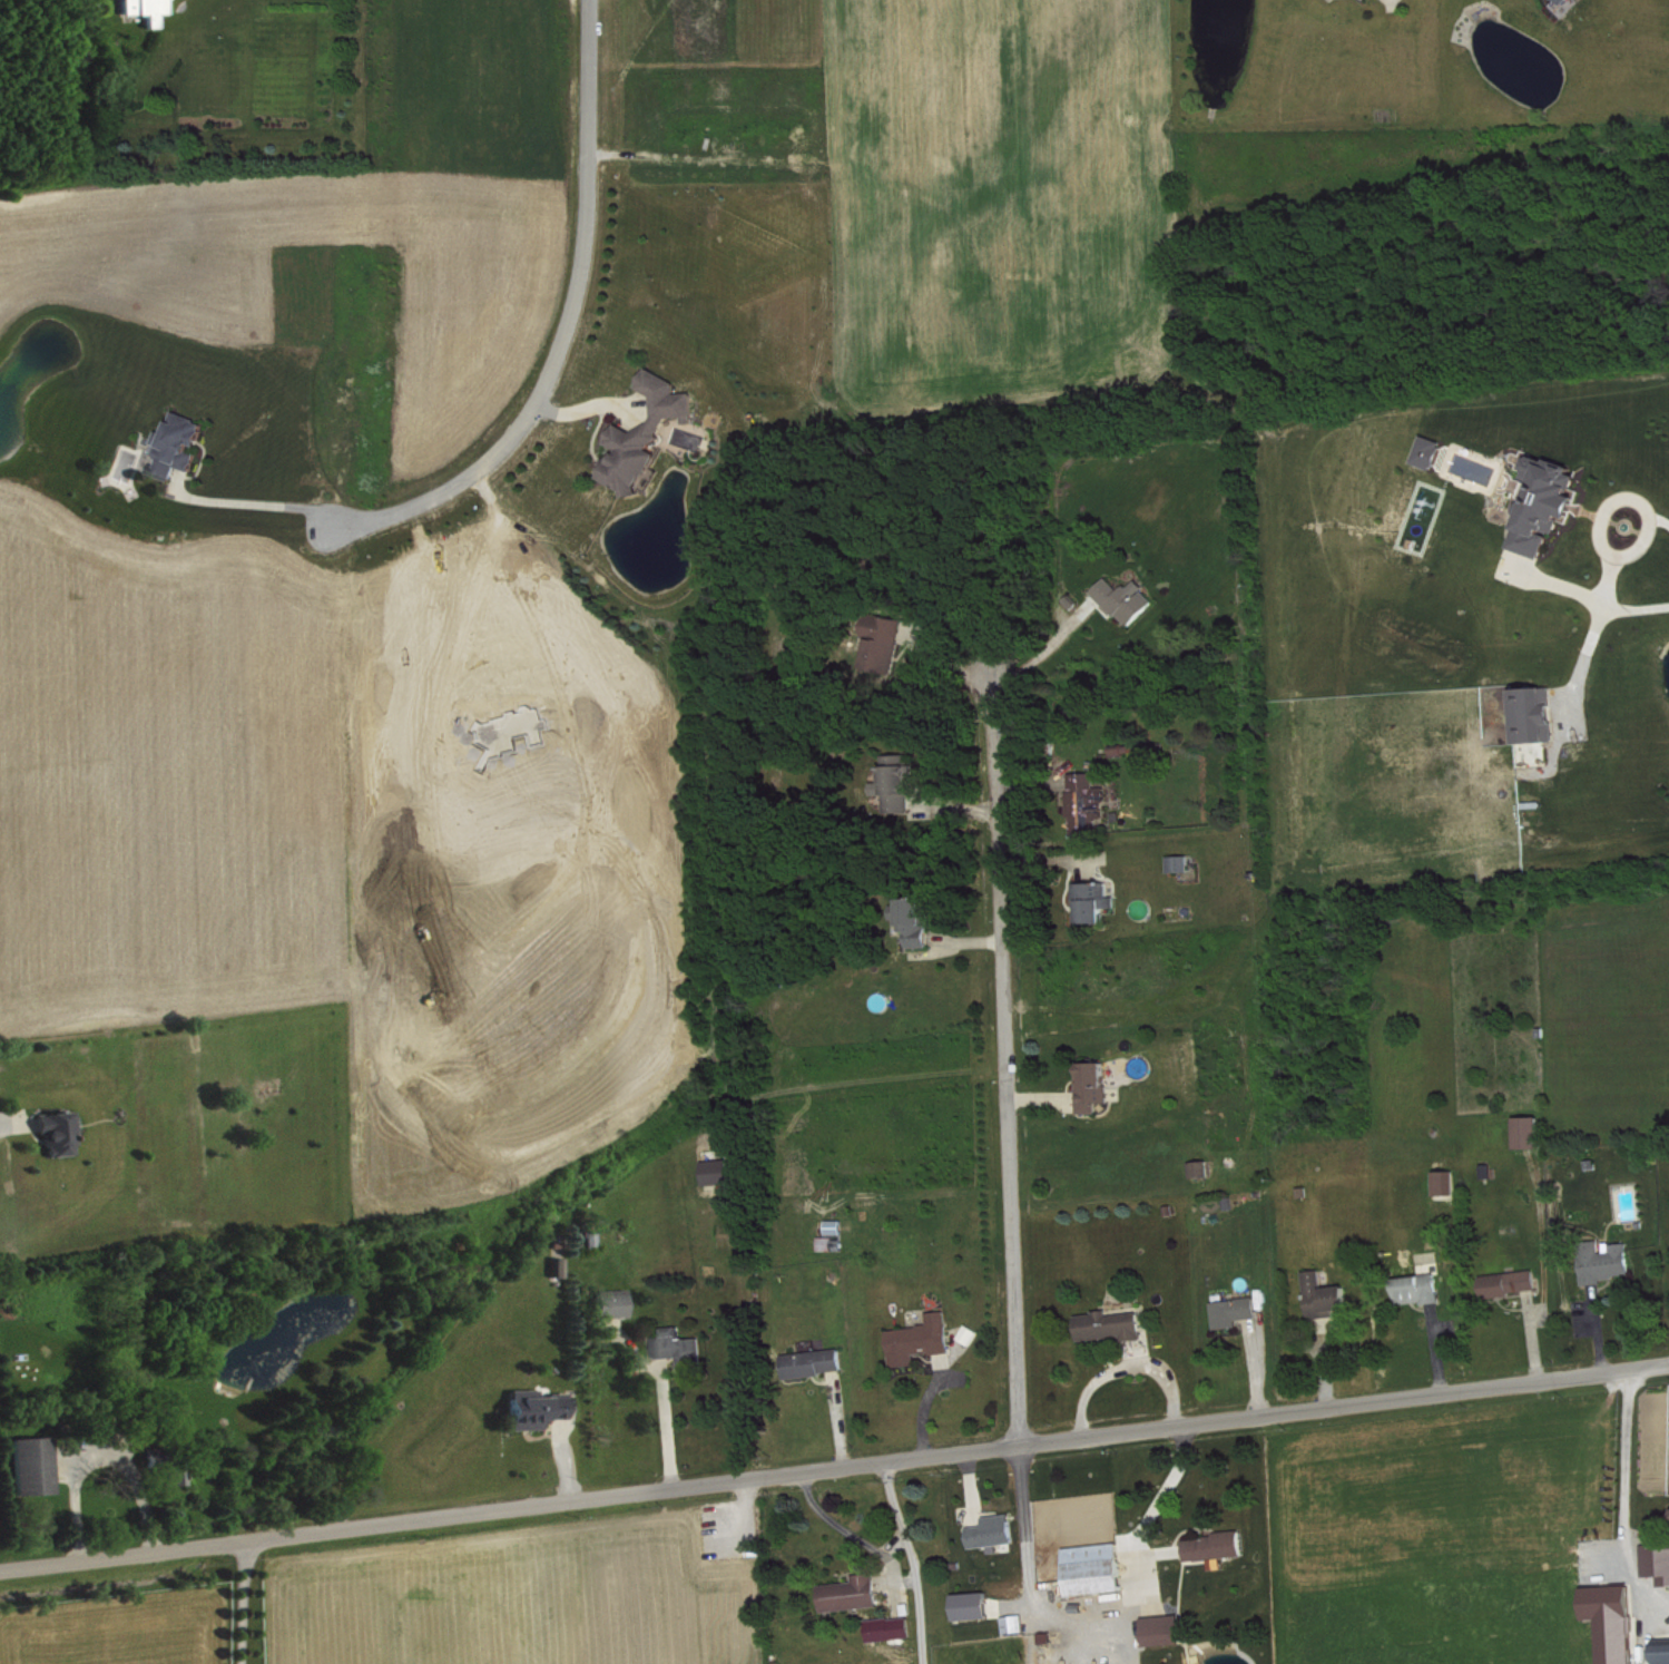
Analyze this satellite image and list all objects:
building: (1555, 0)
building: (150, 10)
road: (573, 329)
building: (650, 433)
building: (183, 446)
building: (1436, 451)
road: (263, 505)
building: (1552, 505)
road: (1659, 518)
road: (1600, 535)
road: (1603, 577)
road: (1589, 597)
building: (1130, 599)
building: (890, 645)
building: (1539, 715)
building: (901, 784)
building: (1090, 802)
building: (1185, 863)
building: (1098, 901)
building: (920, 921)
road: (1005, 1063)
building: (1098, 1086)
building: (1534, 1132)
building: (62, 1134)
building: (1205, 1168)
building: (723, 1172)
building: (840, 1227)
building: (836, 1244)
building: (1611, 1262)
building: (1514, 1283)
building: (1422, 1290)
building: (1328, 1296)
building: (617, 1304)
building: (1238, 1312)
building: (1112, 1325)
building: (924, 1340)
building: (684, 1349)
building: (817, 1363)
road: (662, 1392)
building: (540, 1409)
building: (157, 1456)
building: (38, 1466)
road: (834, 1467)
building: (178, 1477)
road: (1631, 1486)
road: (75, 1501)
road: (844, 1528)
building: (998, 1531)
building: (1219, 1546)
road: (913, 1560)
building: (1659, 1562)
building: (854, 1594)
road: (242, 1601)
road: (1098, 1612)
building: (1618, 1622)
building: (1019, 1624)
building: (905, 1628)
building: (1168, 1629)
building: (1666, 1651)

